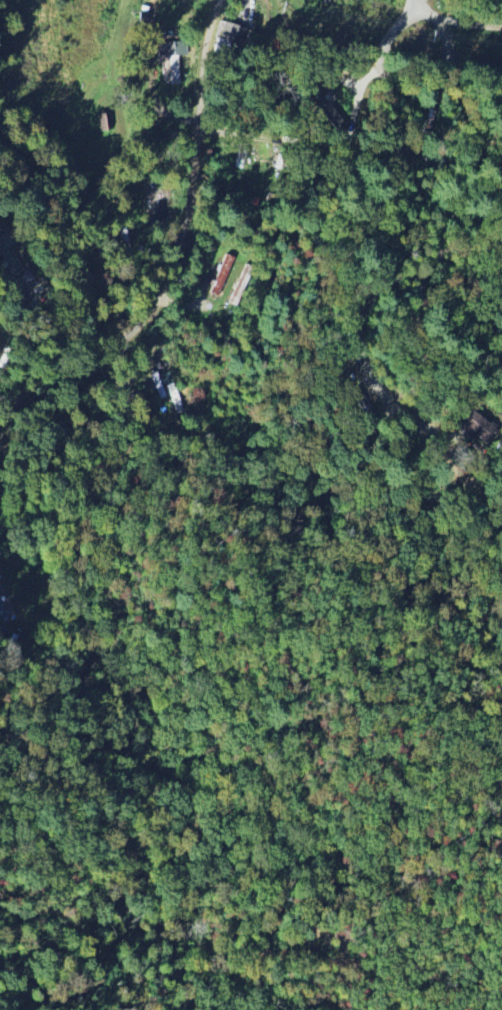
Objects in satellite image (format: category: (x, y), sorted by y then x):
road: (215, 1)
road: (456, 21)
building: (228, 33)
building: (172, 70)
building: (328, 106)
road: (422, 226)
building: (123, 239)
road: (58, 244)
road: (175, 246)
building: (233, 286)

